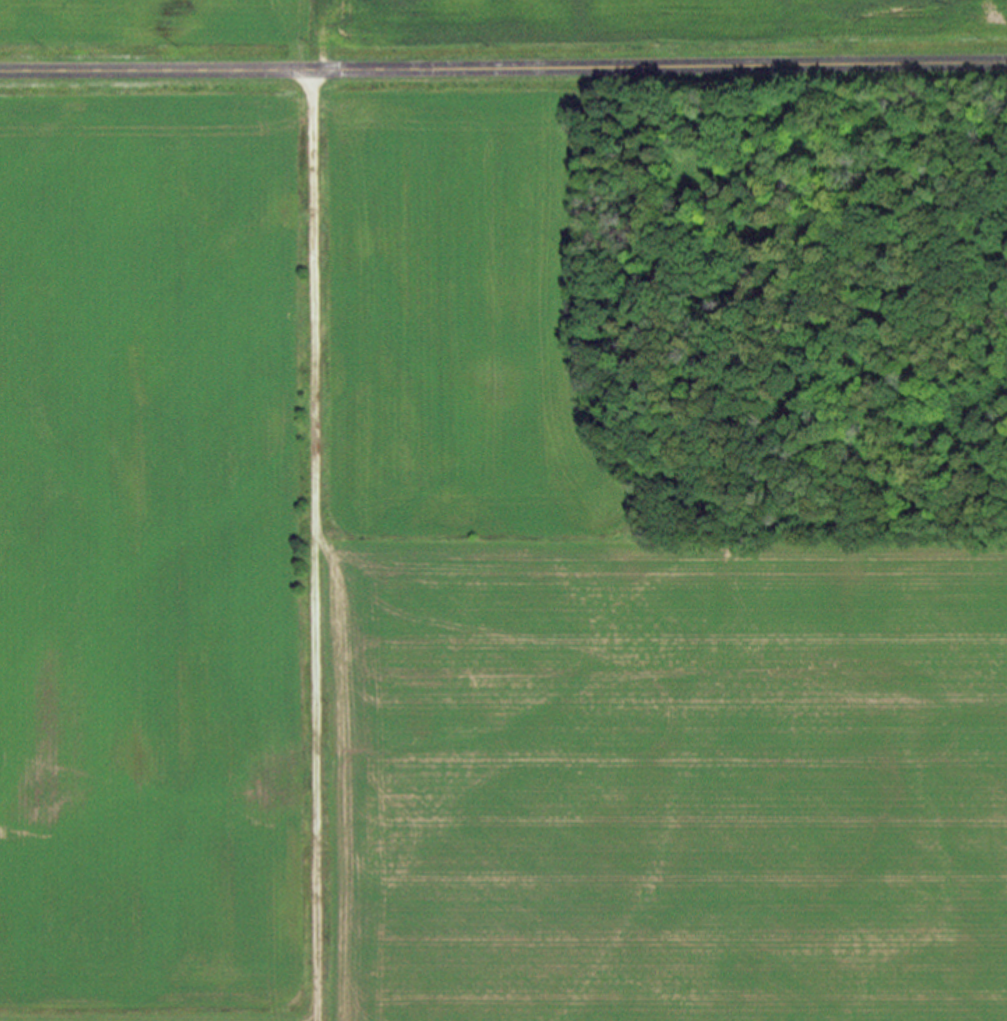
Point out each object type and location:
road: (503, 68)
road: (313, 546)

